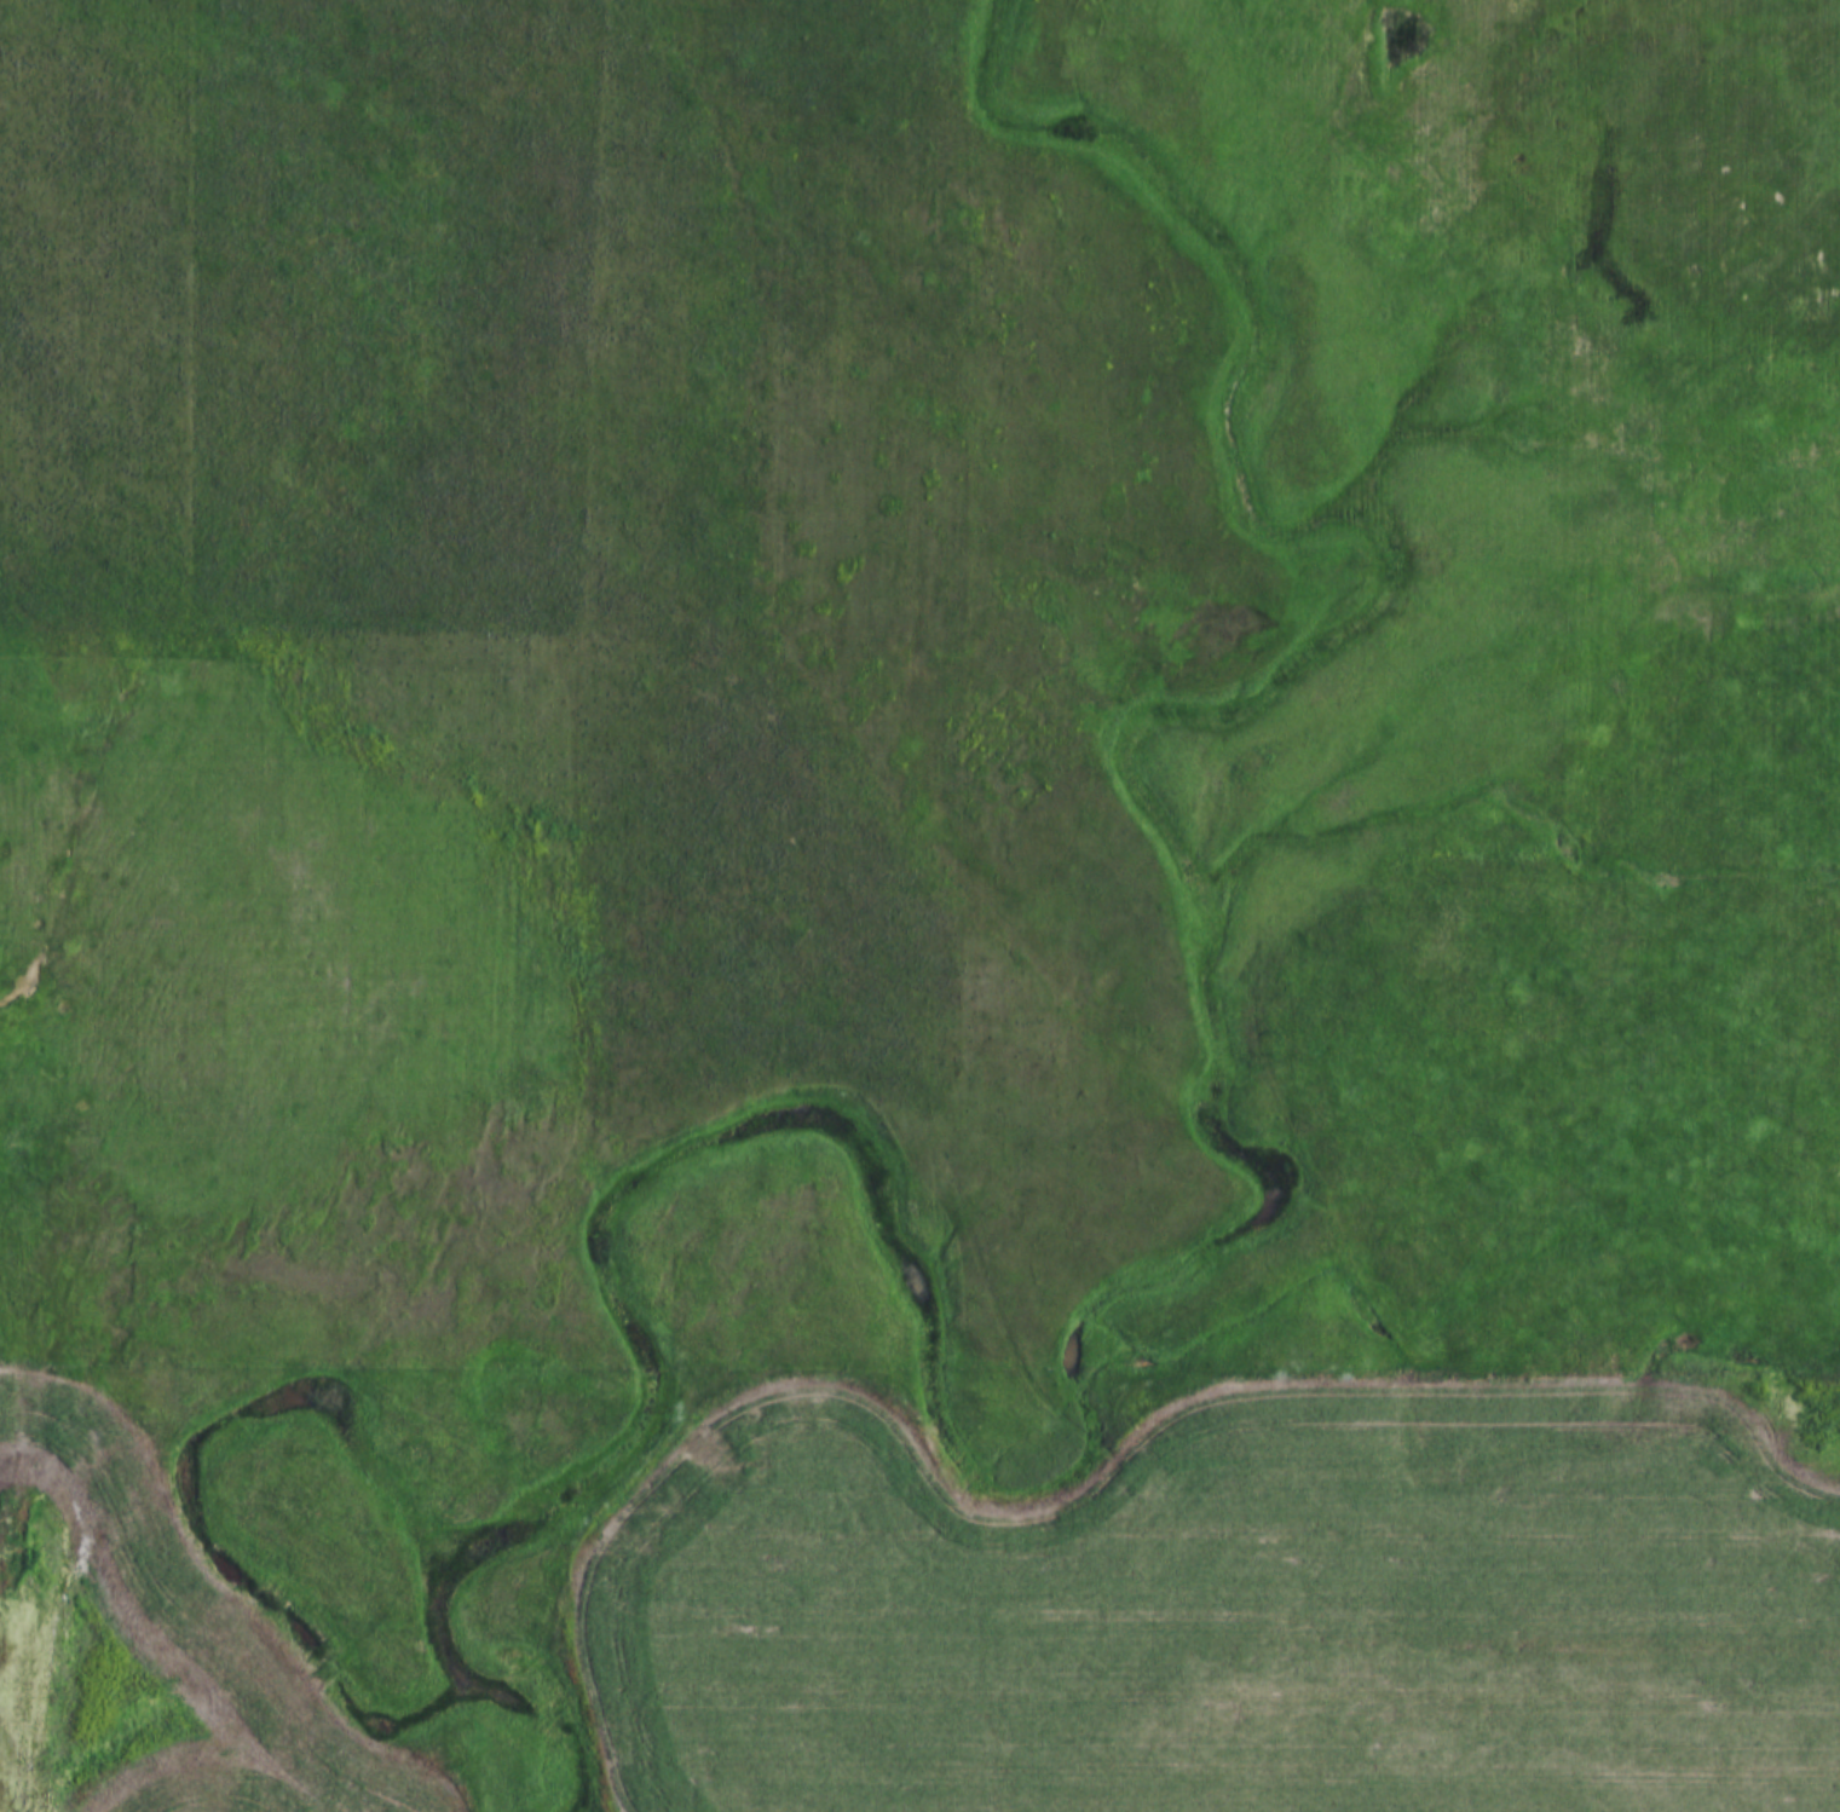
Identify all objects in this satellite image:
building: (1769, 791)
building: (1678, 927)
building: (1675, 1096)

